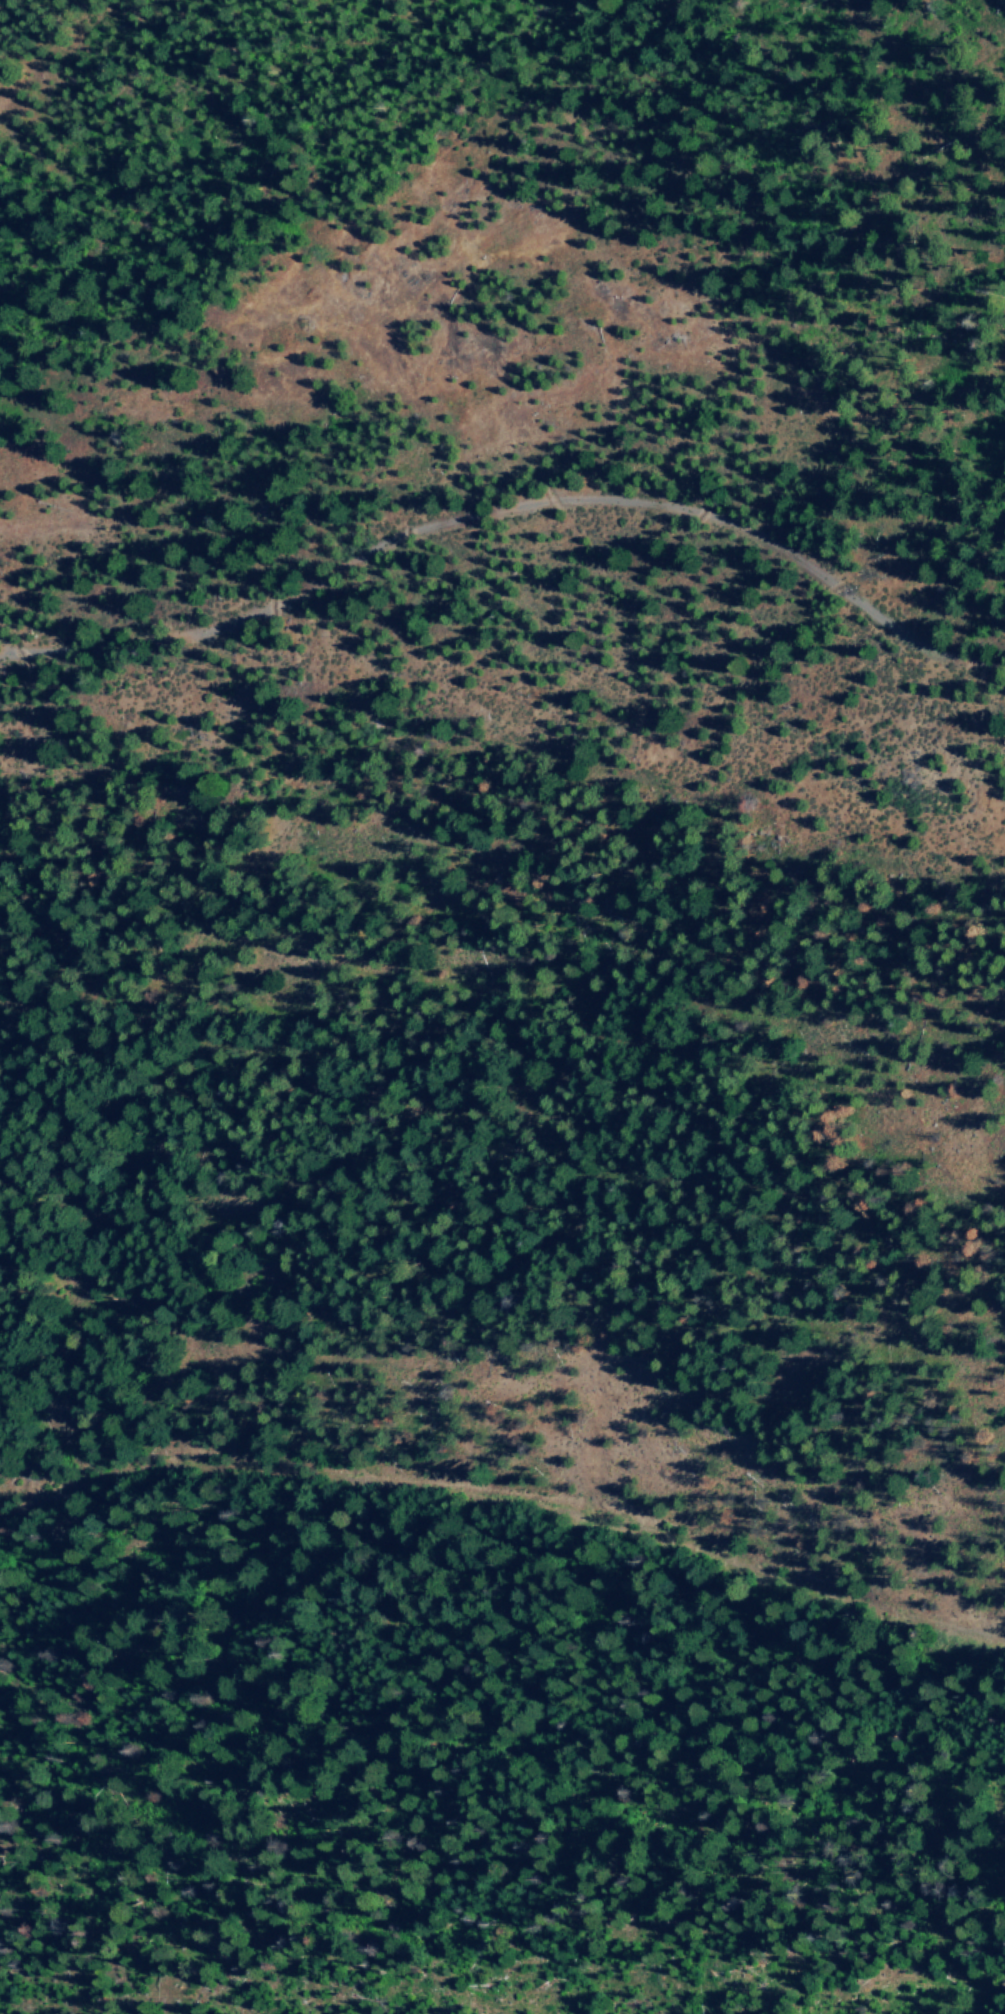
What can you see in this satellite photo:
road: (509, 509)
road: (509, 1493)

